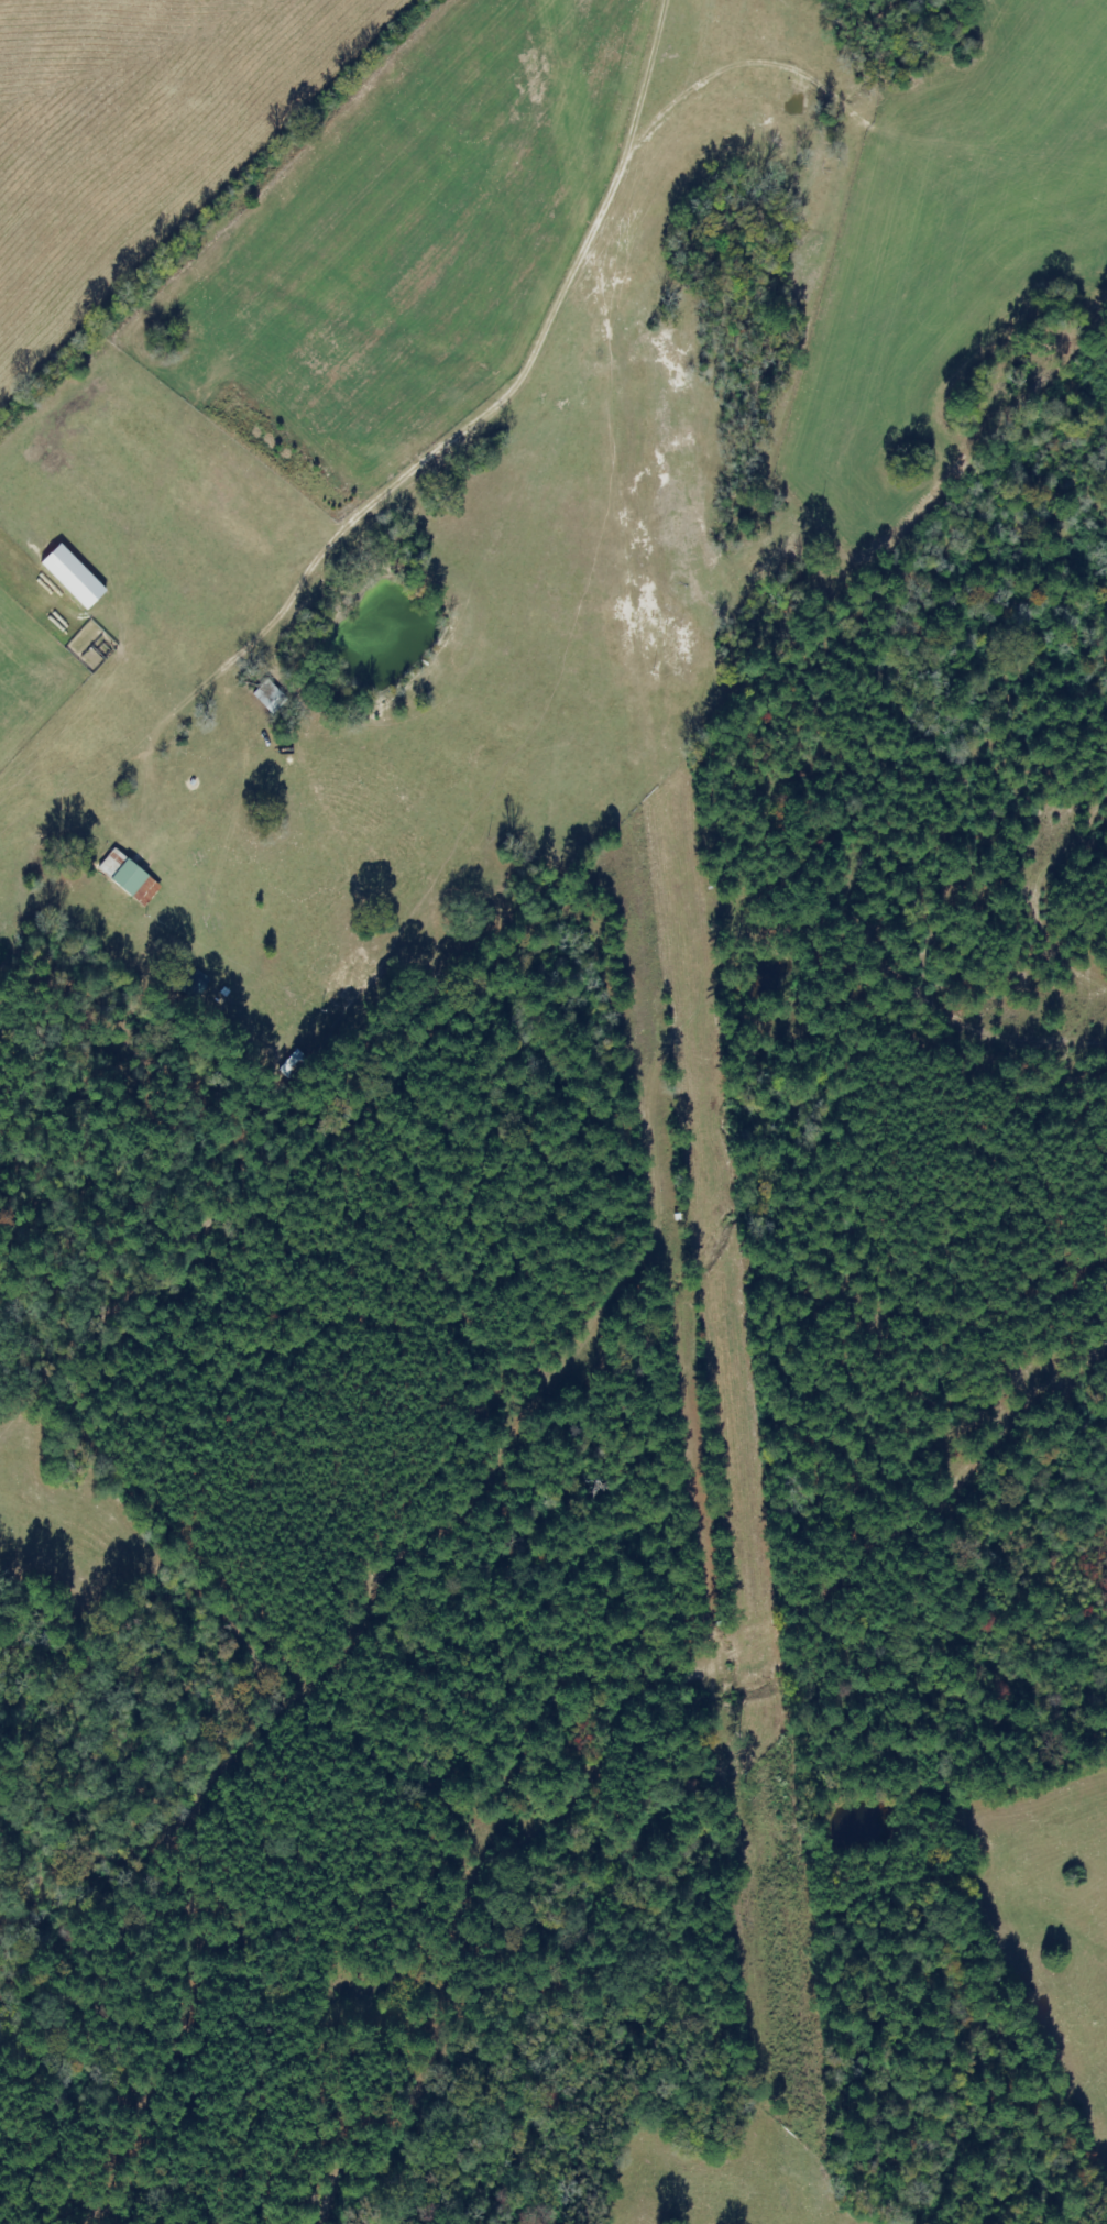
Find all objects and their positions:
building: (78, 576)
building: (133, 877)

